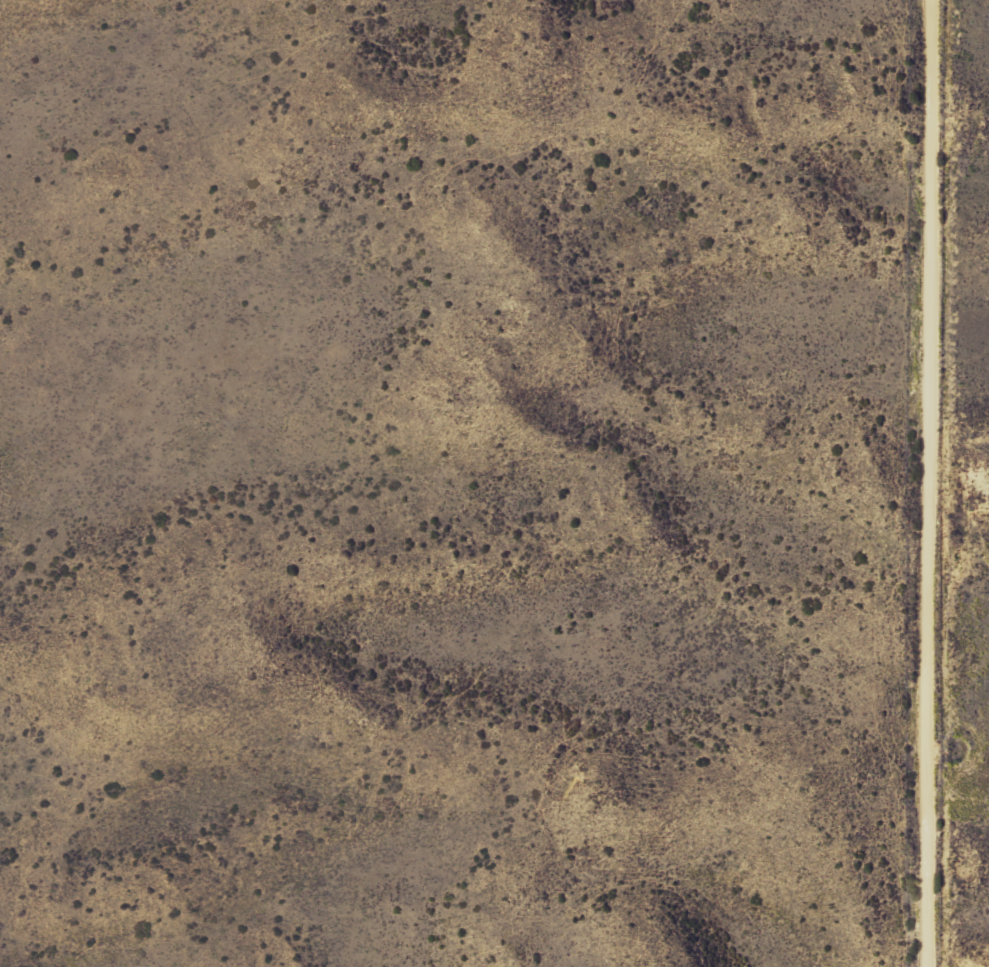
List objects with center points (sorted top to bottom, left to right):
road: (928, 483)

